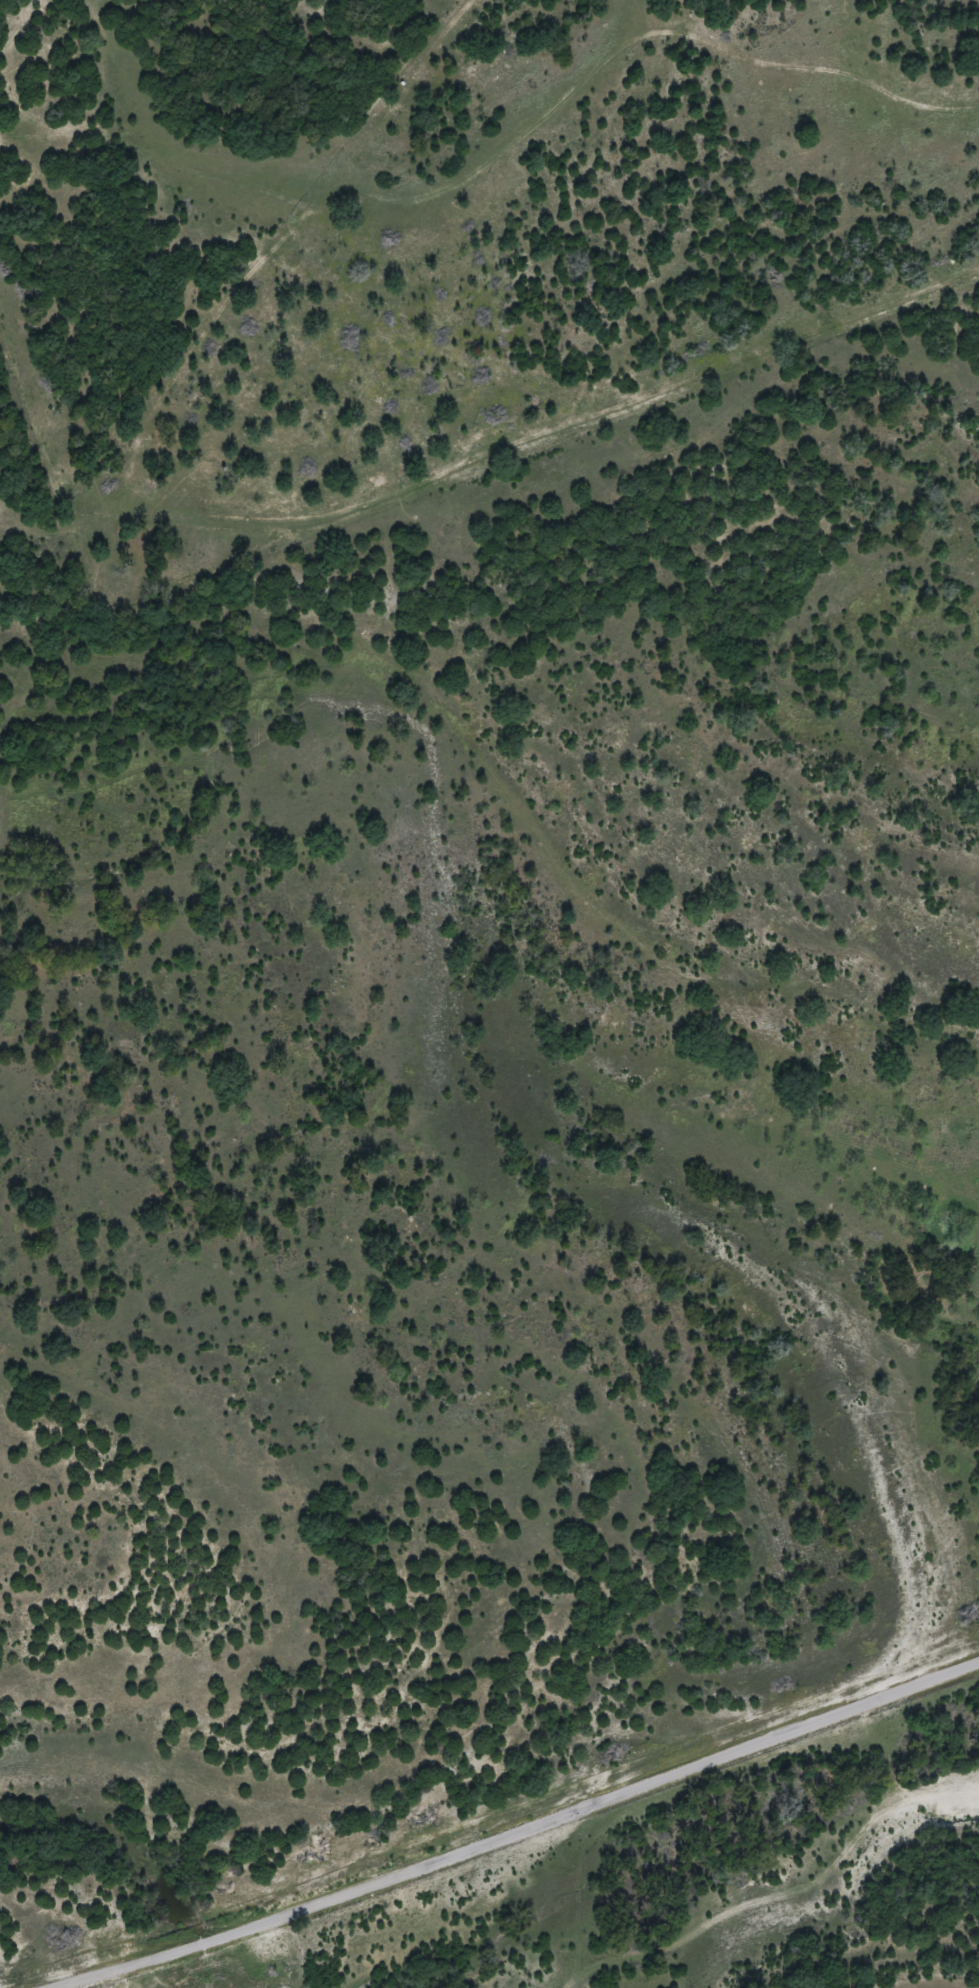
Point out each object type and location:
road: (521, 1834)

